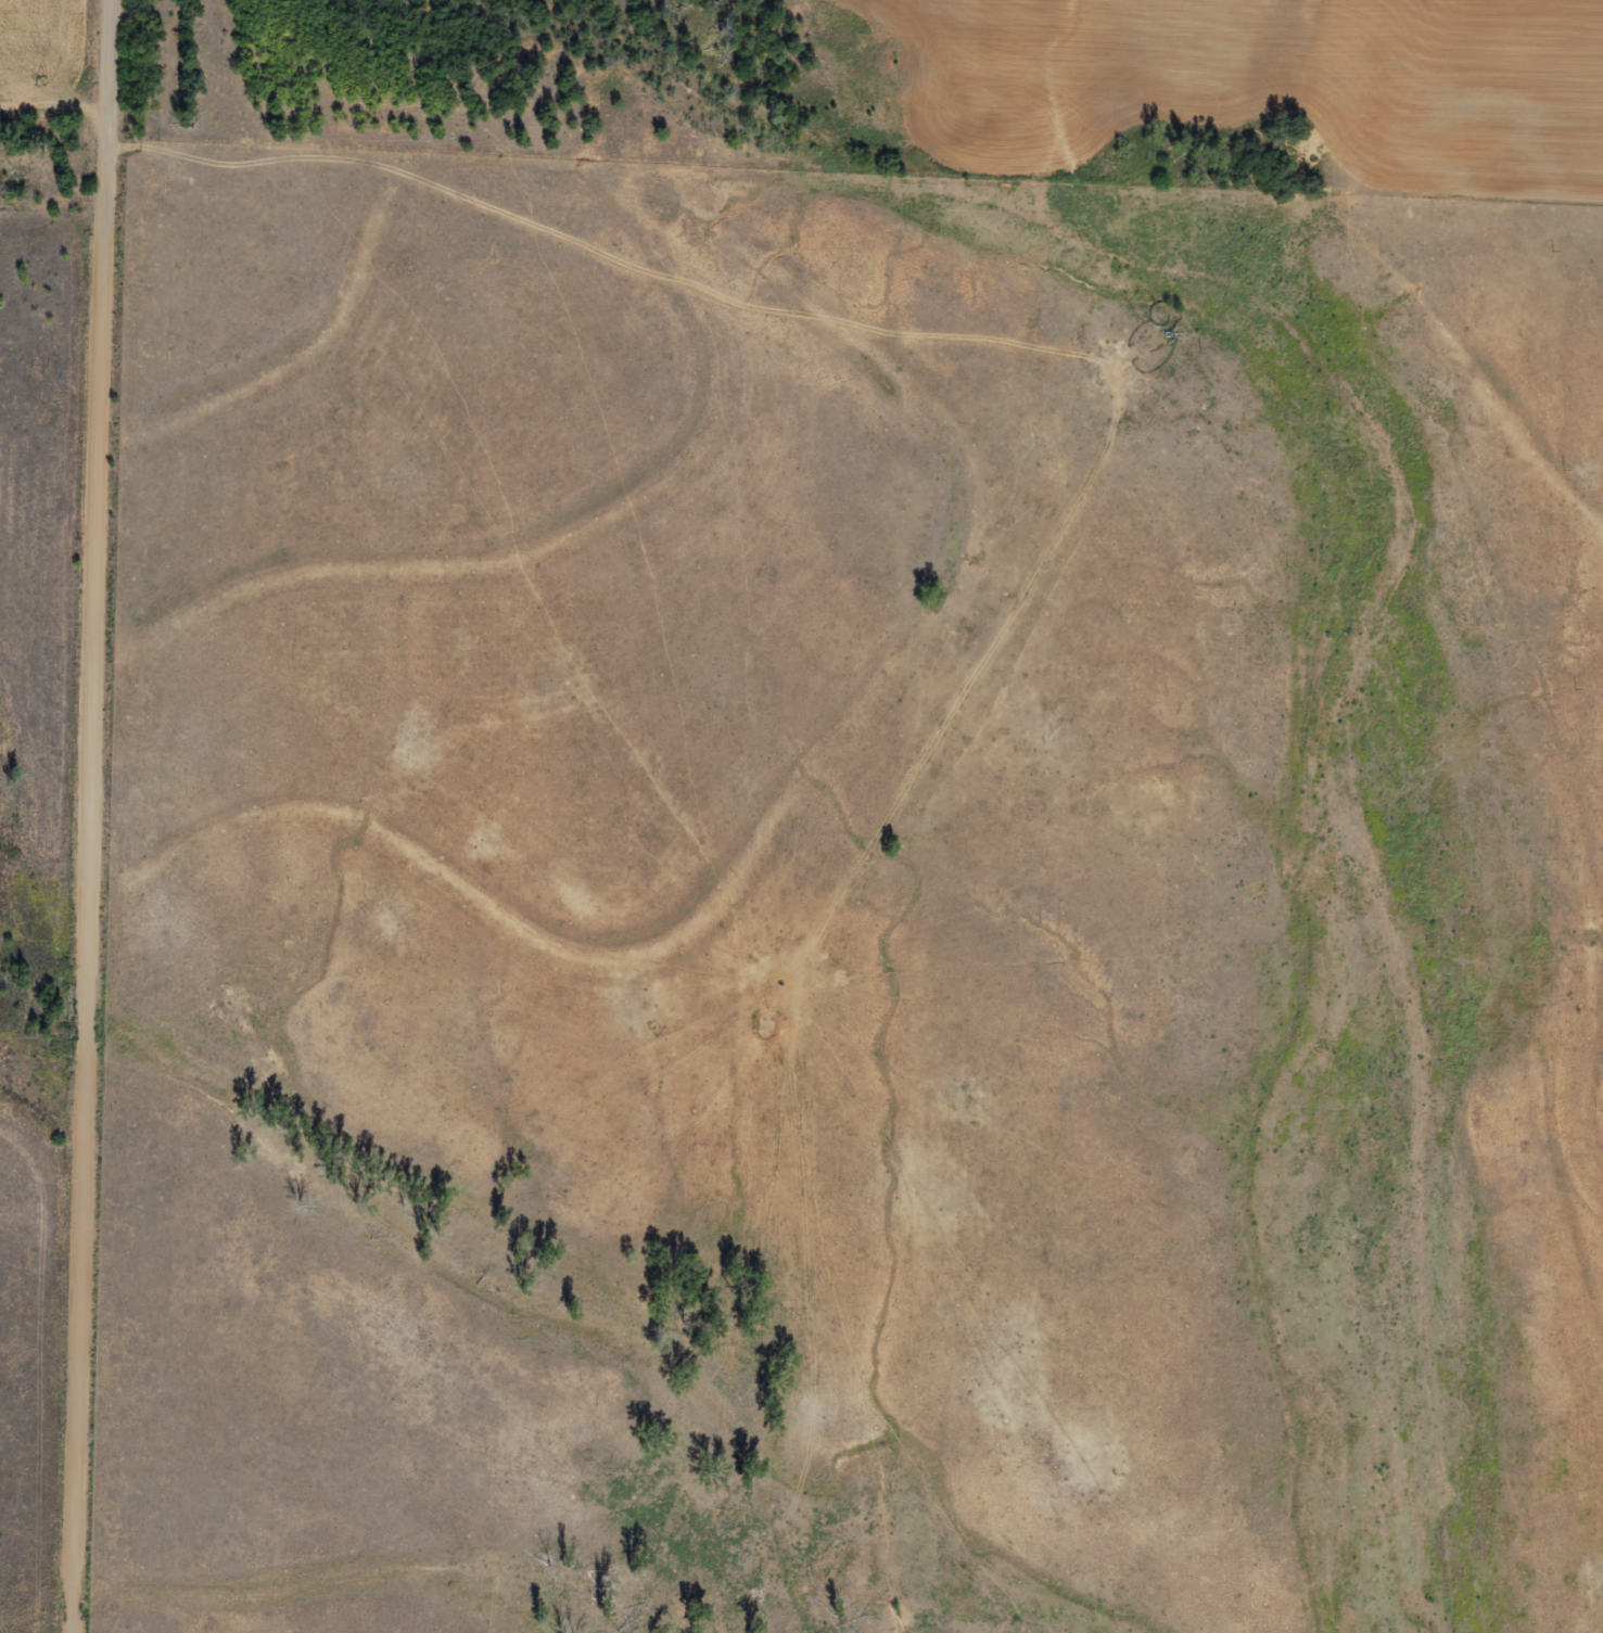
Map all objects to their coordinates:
road: (55, 84)
road: (54, 122)
road: (90, 816)

